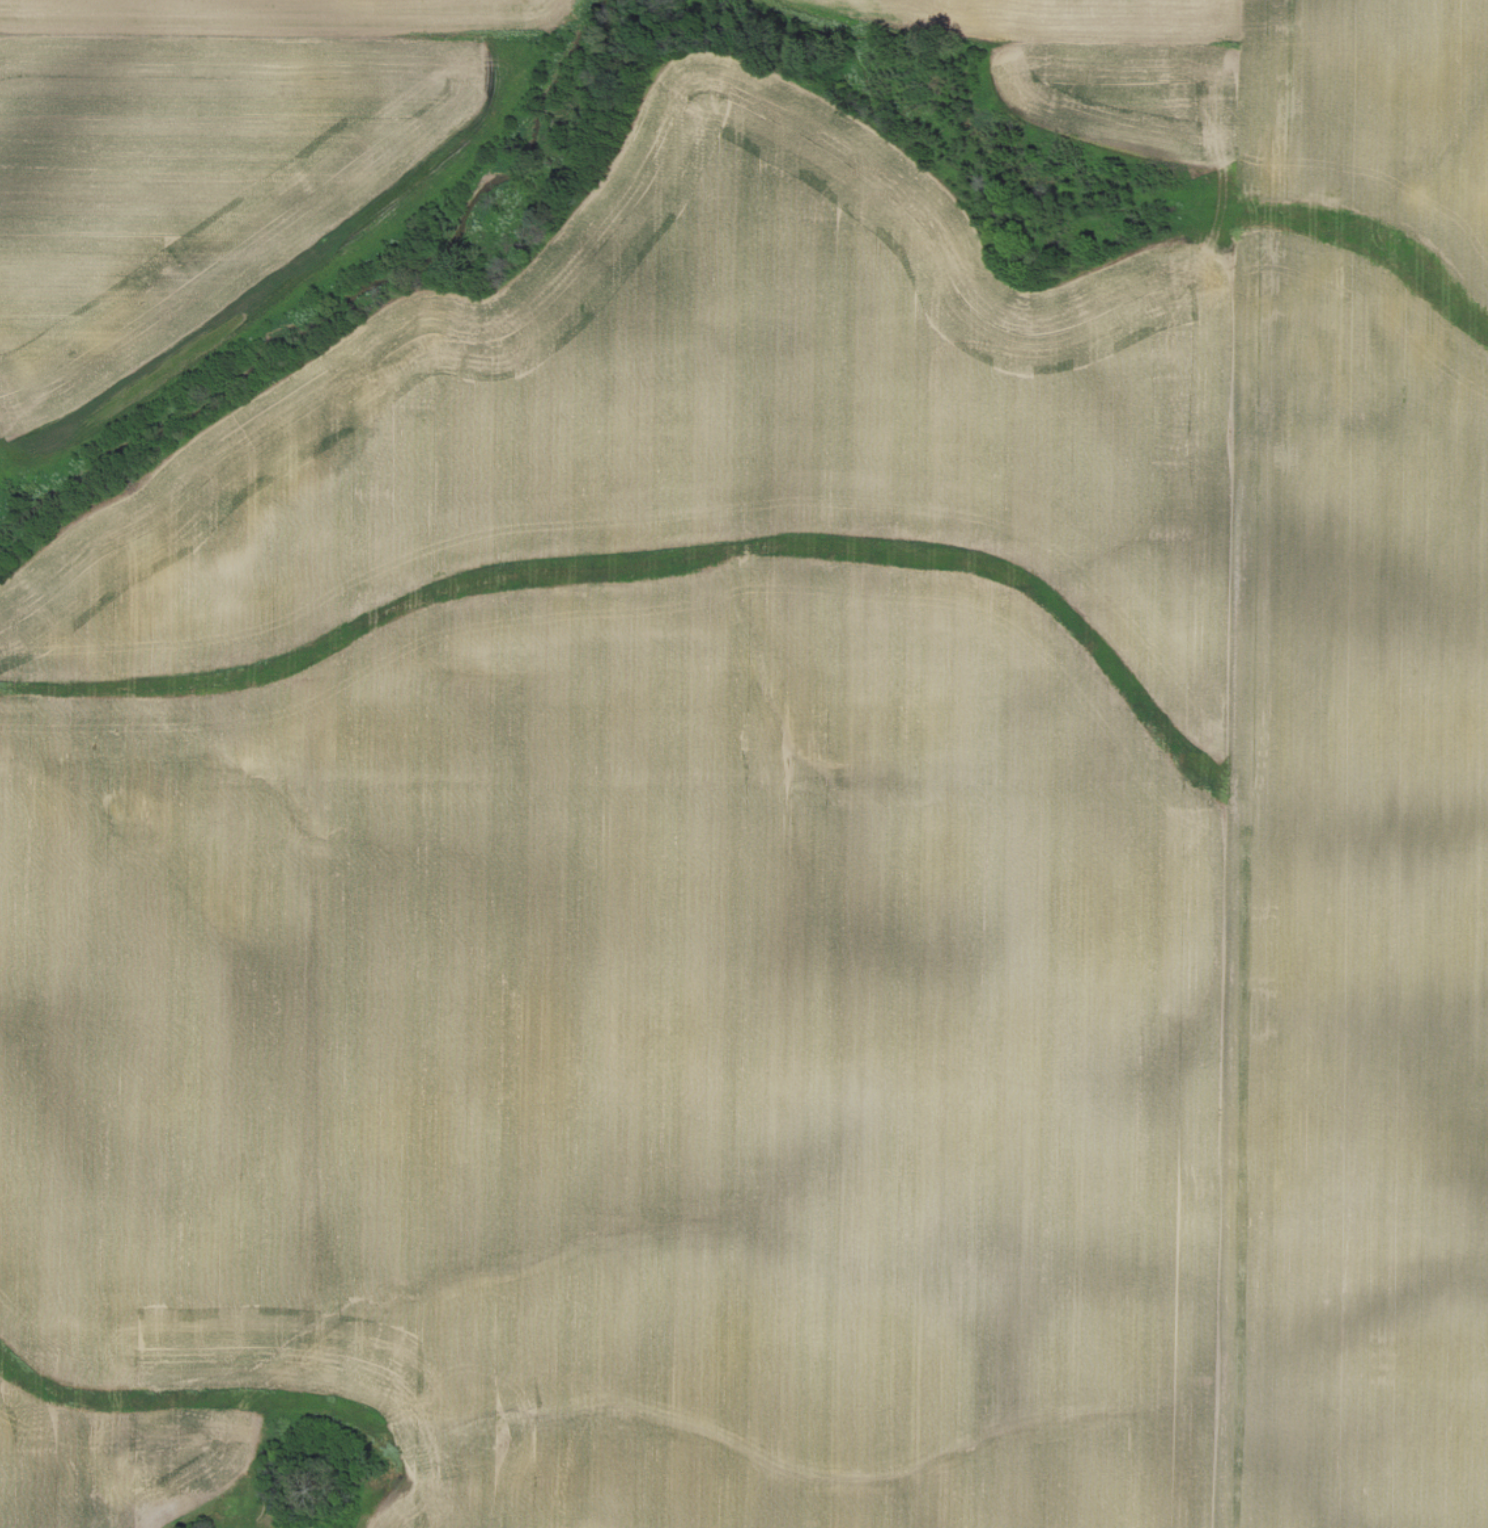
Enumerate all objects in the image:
road: (1231, 1133)

